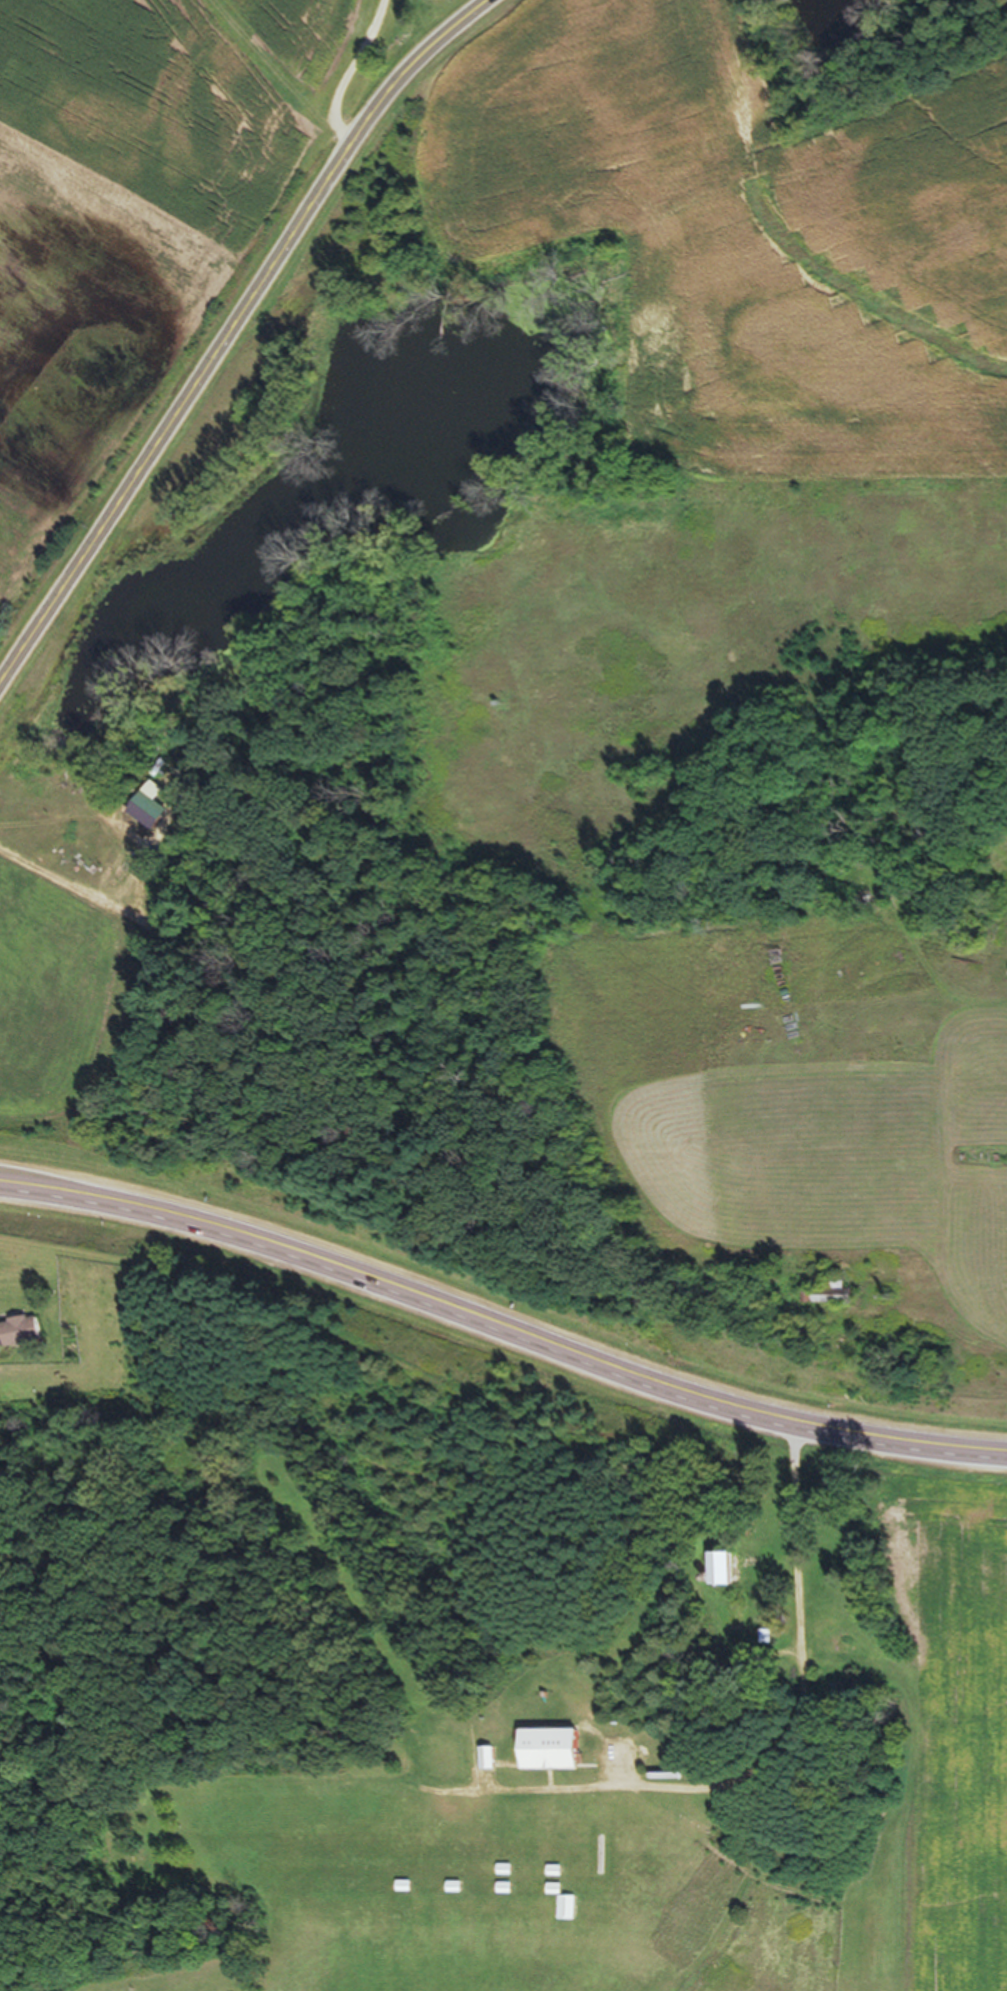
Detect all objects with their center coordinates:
road: (345, 72)
road: (229, 330)
building: (146, 817)
building: (830, 1298)
road: (501, 1326)
building: (19, 1336)
building: (718, 1574)
road: (796, 1691)
building: (546, 1754)

